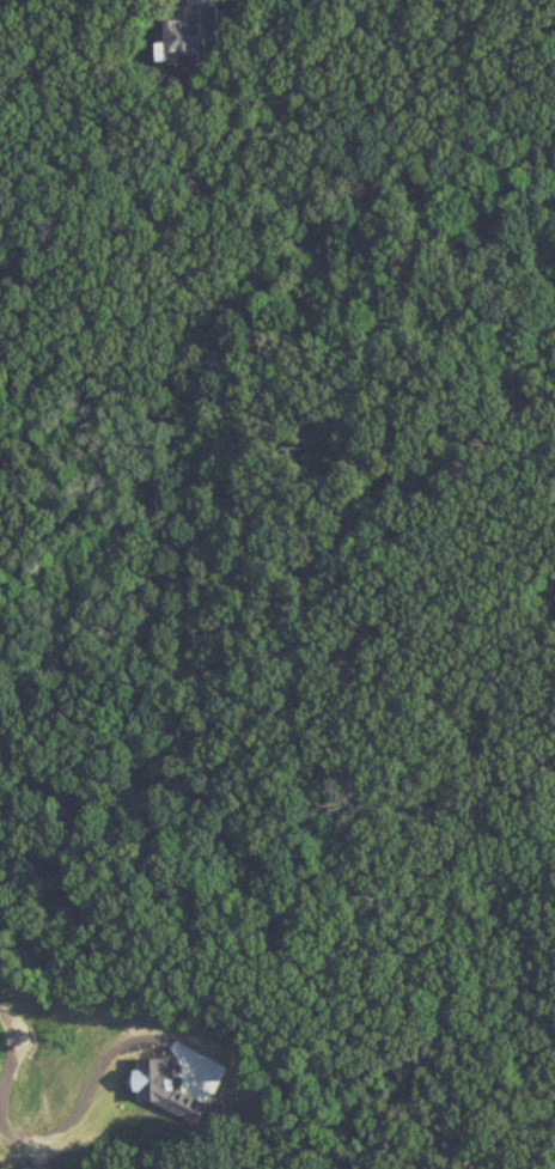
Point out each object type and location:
building: (190, 36)
road: (163, 311)
road: (45, 1089)
building: (23, 1095)
building: (22, 1168)

